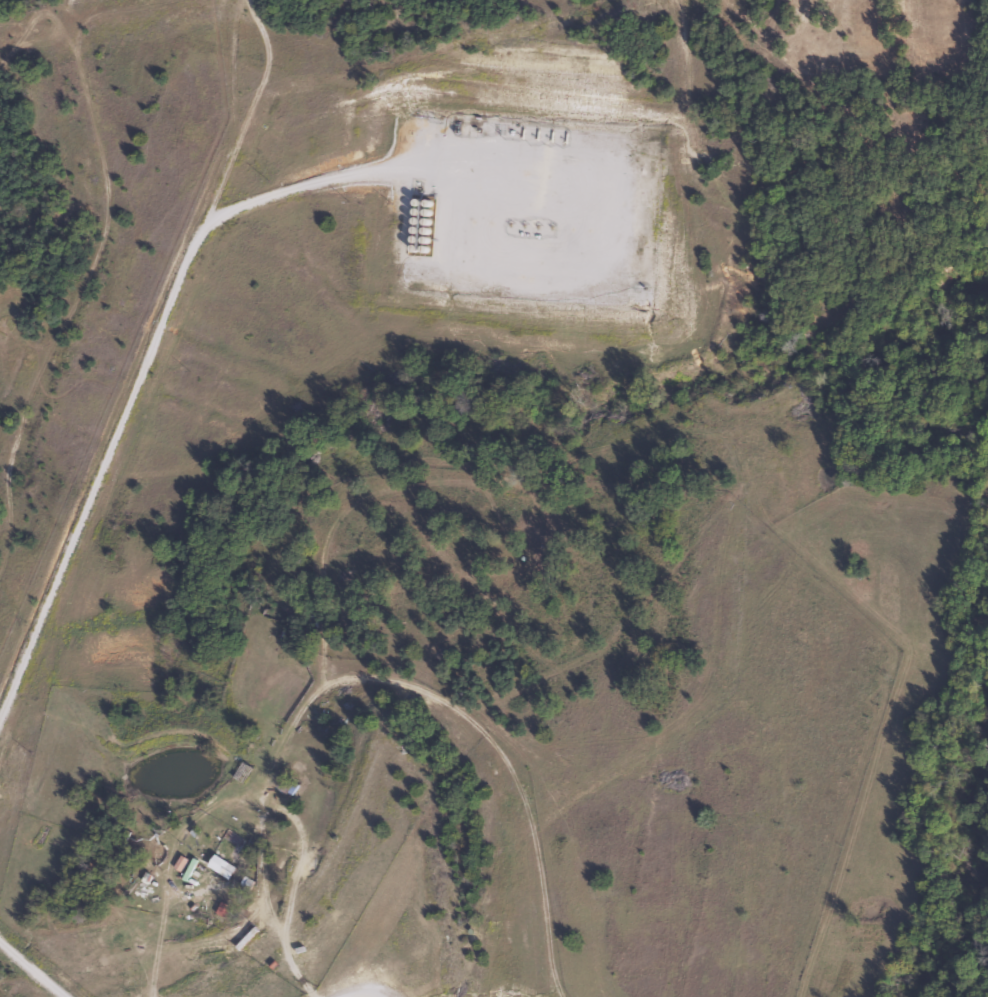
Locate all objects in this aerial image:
road: (151, 360)
building: (242, 774)
building: (221, 847)
building: (203, 880)
road: (32, 964)
road: (363, 986)

